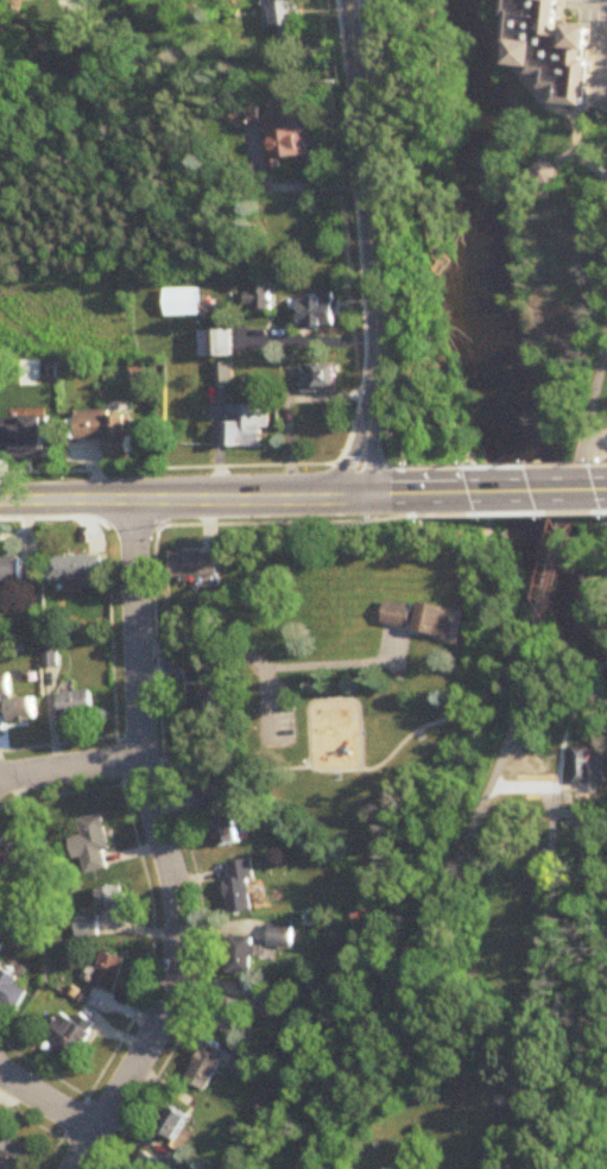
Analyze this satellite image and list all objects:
building: (280, 12)
building: (581, 40)
parking lot: (373, 43)
road: (382, 43)
building: (551, 51)
road: (602, 51)
building: (529, 57)
road: (512, 62)
road: (444, 96)
park: (529, 121)
building: (299, 141)
road: (577, 143)
road: (568, 158)
building: (548, 175)
road: (289, 183)
park: (410, 245)
road: (371, 247)
park: (555, 264)
building: (185, 299)
building: (258, 301)
building: (327, 311)
river: (497, 329)
road: (310, 339)
building: (219, 340)
building: (225, 368)
building: (38, 373)
building: (328, 373)
road: (289, 400)
road: (596, 400)
road: (362, 402)
building: (249, 419)
building: (105, 432)
building: (31, 440)
road: (216, 447)
road: (599, 447)
park: (581, 449)
road: (371, 466)
road: (506, 467)
road: (599, 481)
road: (511, 489)
road: (576, 491)
road: (208, 497)
road: (506, 514)
road: (280, 519)
building: (194, 565)
building: (10, 569)
building: (74, 570)
road: (552, 575)
road: (152, 587)
building: (398, 615)
building: (438, 621)
road: (235, 655)
road: (327, 664)
road: (154, 669)
road: (599, 674)
building: (198, 676)
building: (2, 687)
building: (72, 706)
building: (19, 709)
building: (201, 713)
road: (359, 738)
park: (348, 757)
road: (67, 759)
building: (580, 764)
road: (234, 776)
road: (524, 788)
building: (208, 801)
building: (226, 832)
building: (89, 846)
road: (162, 846)
road: (582, 852)
building: (15, 860)
building: (239, 887)
building: (109, 901)
road: (432, 908)
road: (544, 923)
building: (86, 927)
road: (201, 934)
building: (280, 935)
road: (150, 942)
building: (0, 944)
building: (239, 955)
building: (107, 972)
building: (11, 993)
building: (264, 1003)
building: (226, 1016)
building: (70, 1035)
building: (244, 1064)
road: (39, 1068)
building: (202, 1070)
road: (46, 1101)
road: (29, 1121)
building: (171, 1124)
road: (56, 1143)
building: (11, 1155)
building: (146, 1163)
building: (182, 1164)

